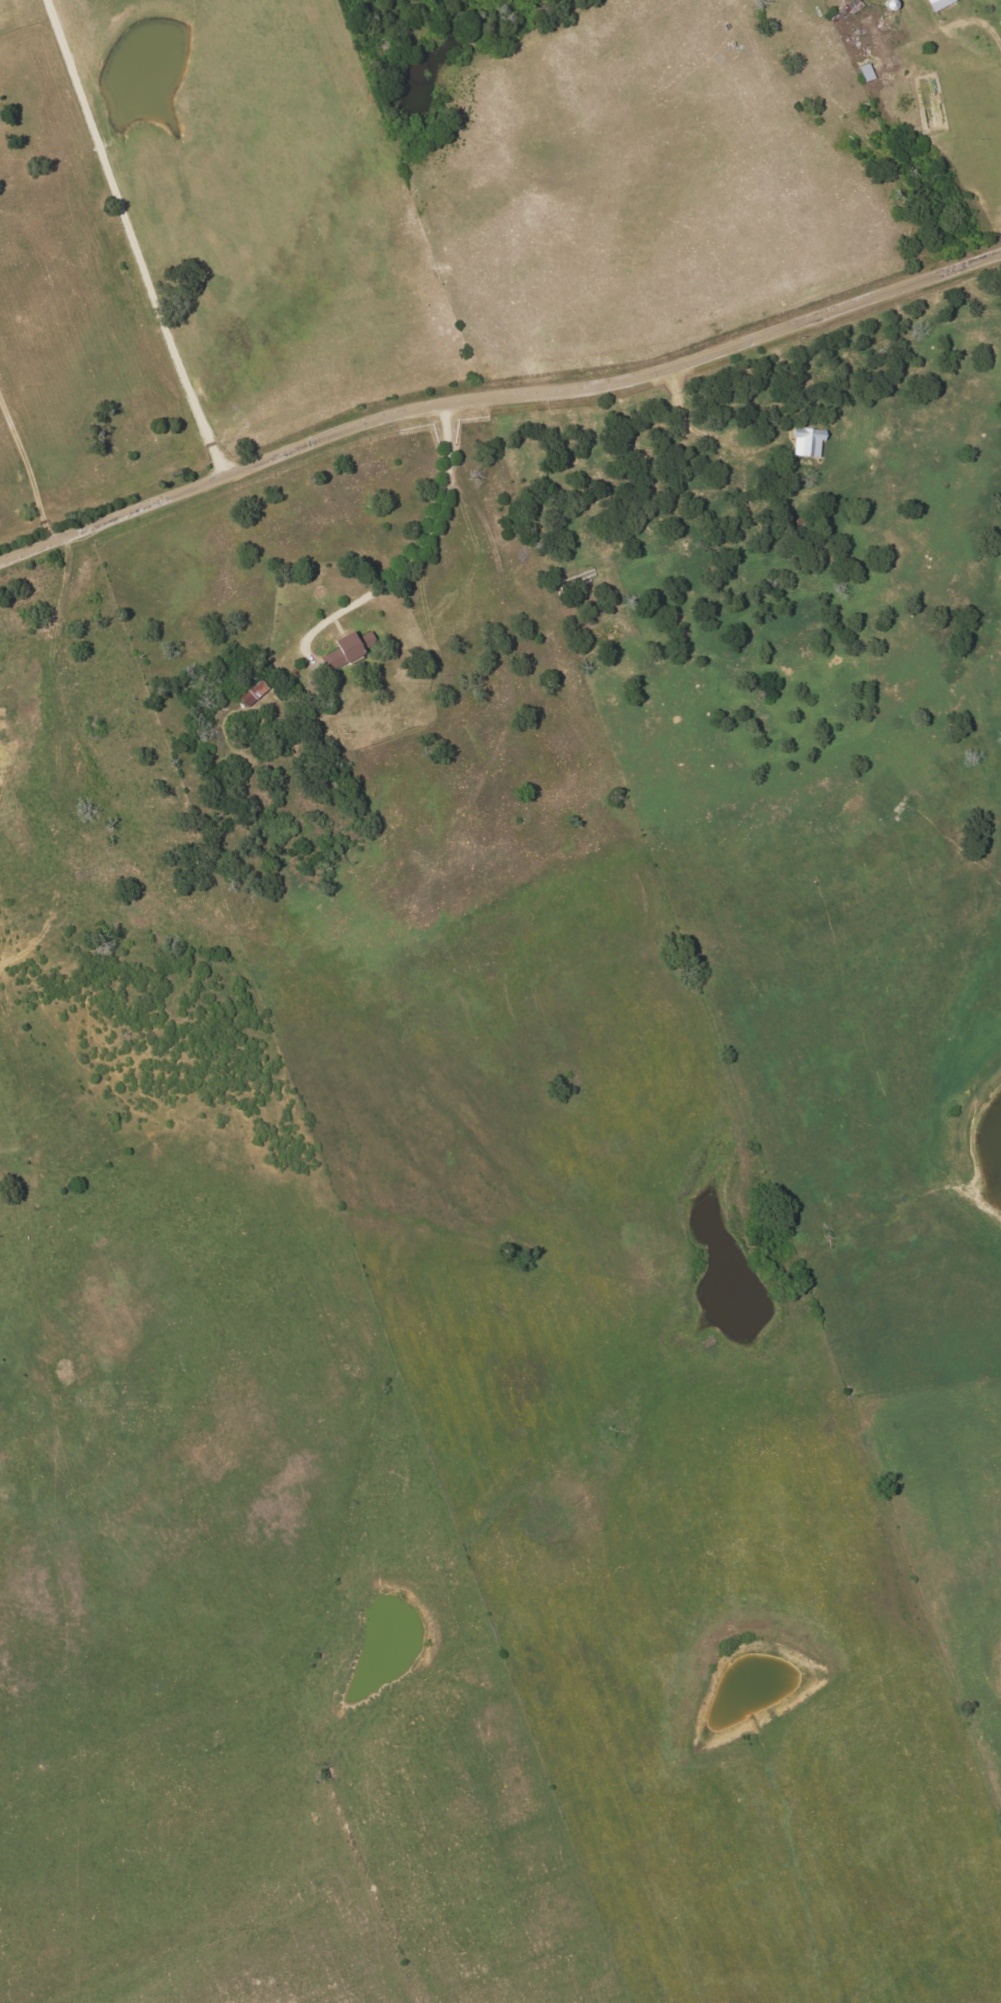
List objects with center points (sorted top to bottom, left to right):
building: (938, 4)
road: (131, 239)
road: (497, 399)
building: (807, 442)
road: (32, 471)
road: (414, 552)
building: (342, 652)
building: (252, 694)

